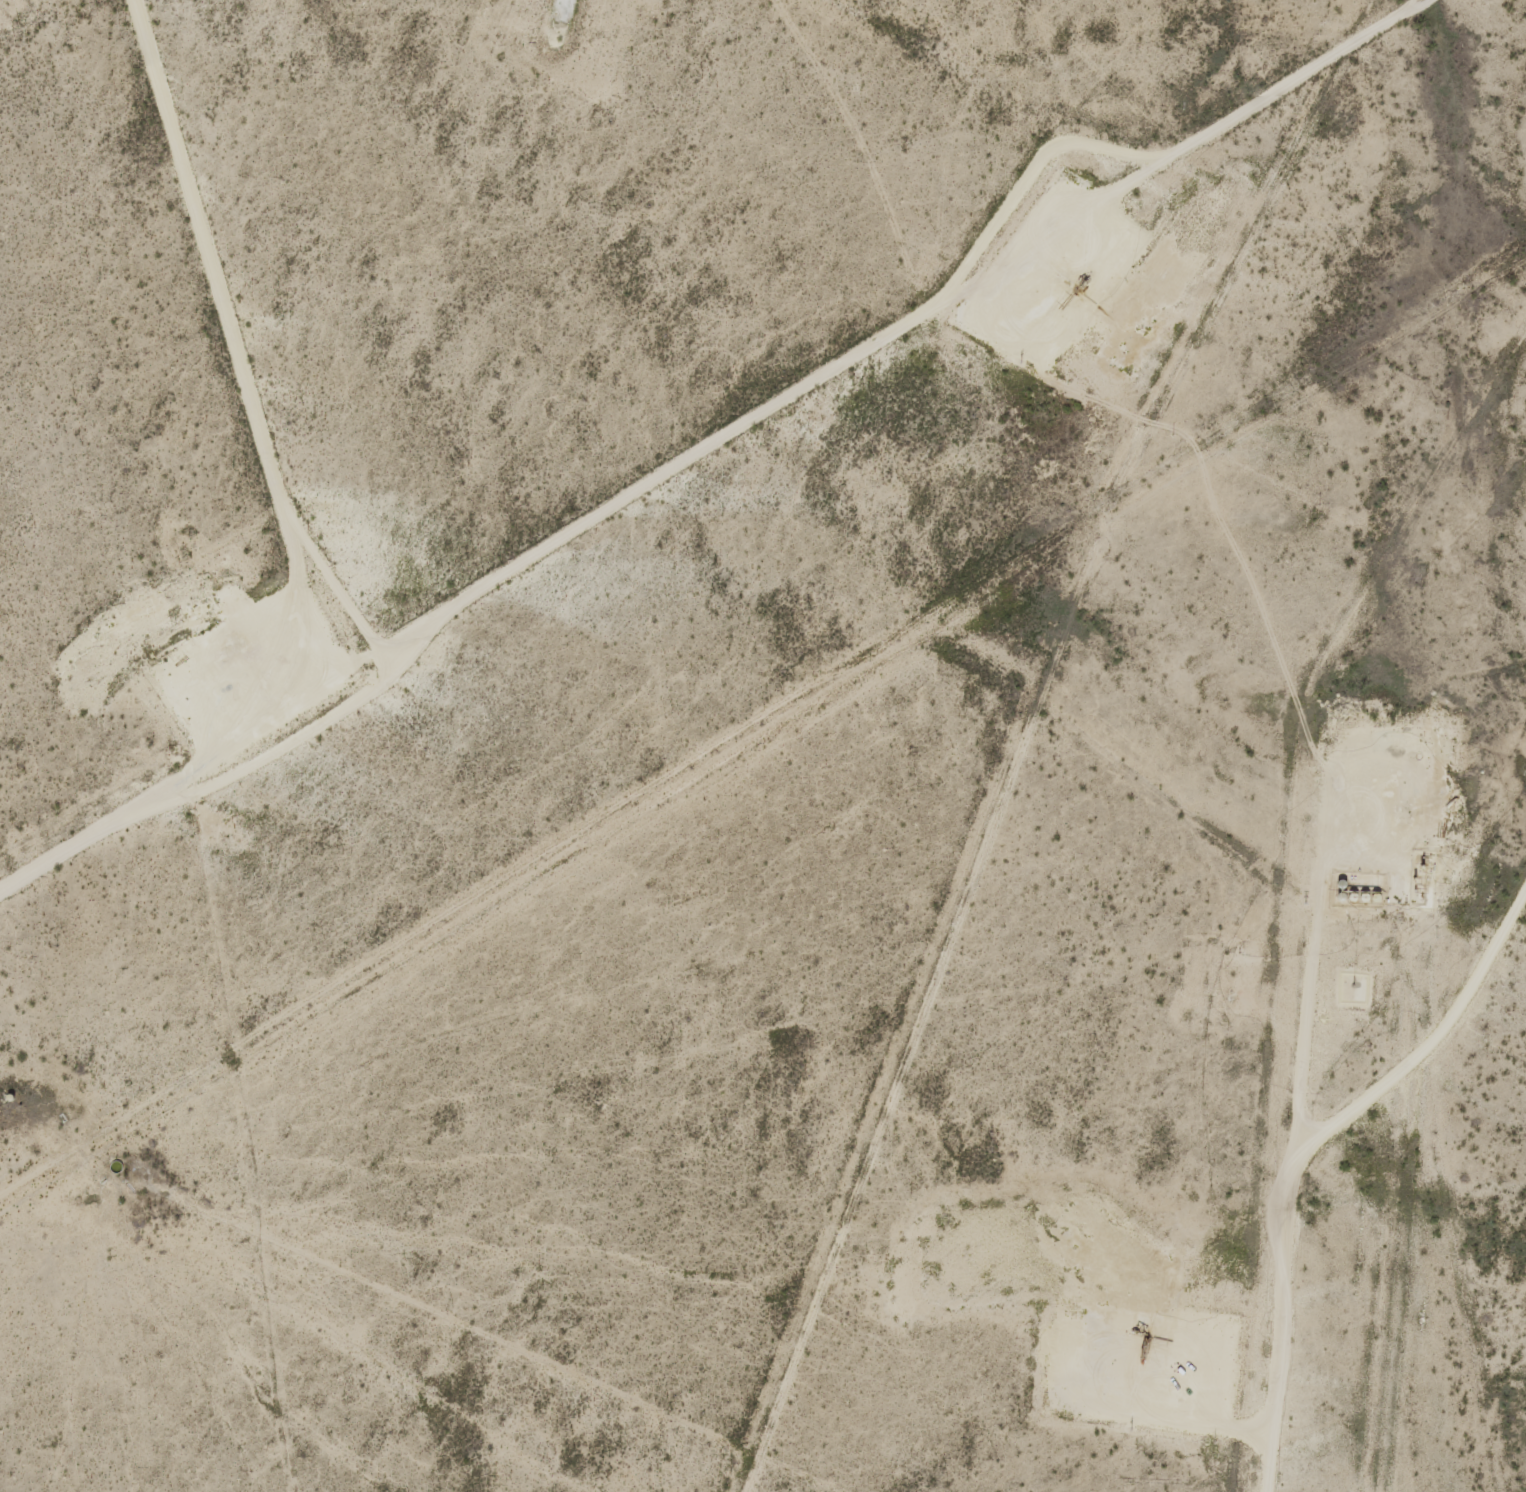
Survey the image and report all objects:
road: (238, 338)
road: (733, 437)
road: (1435, 1034)
road: (1290, 1161)

